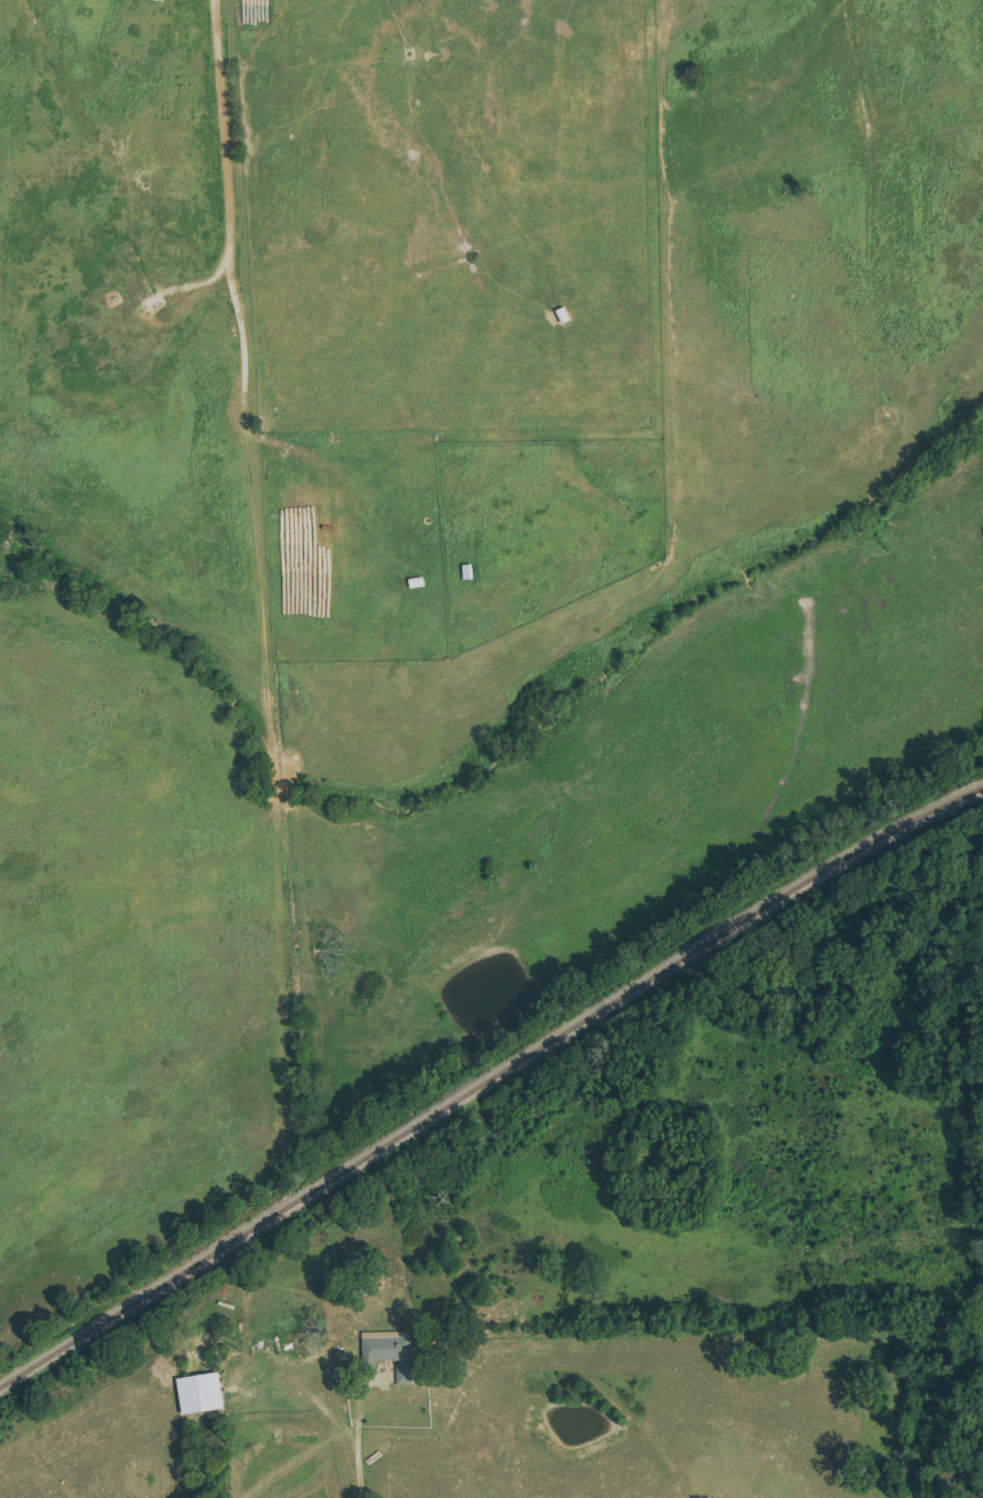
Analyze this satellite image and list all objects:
railway: (487, 1079)
building: (393, 1355)

